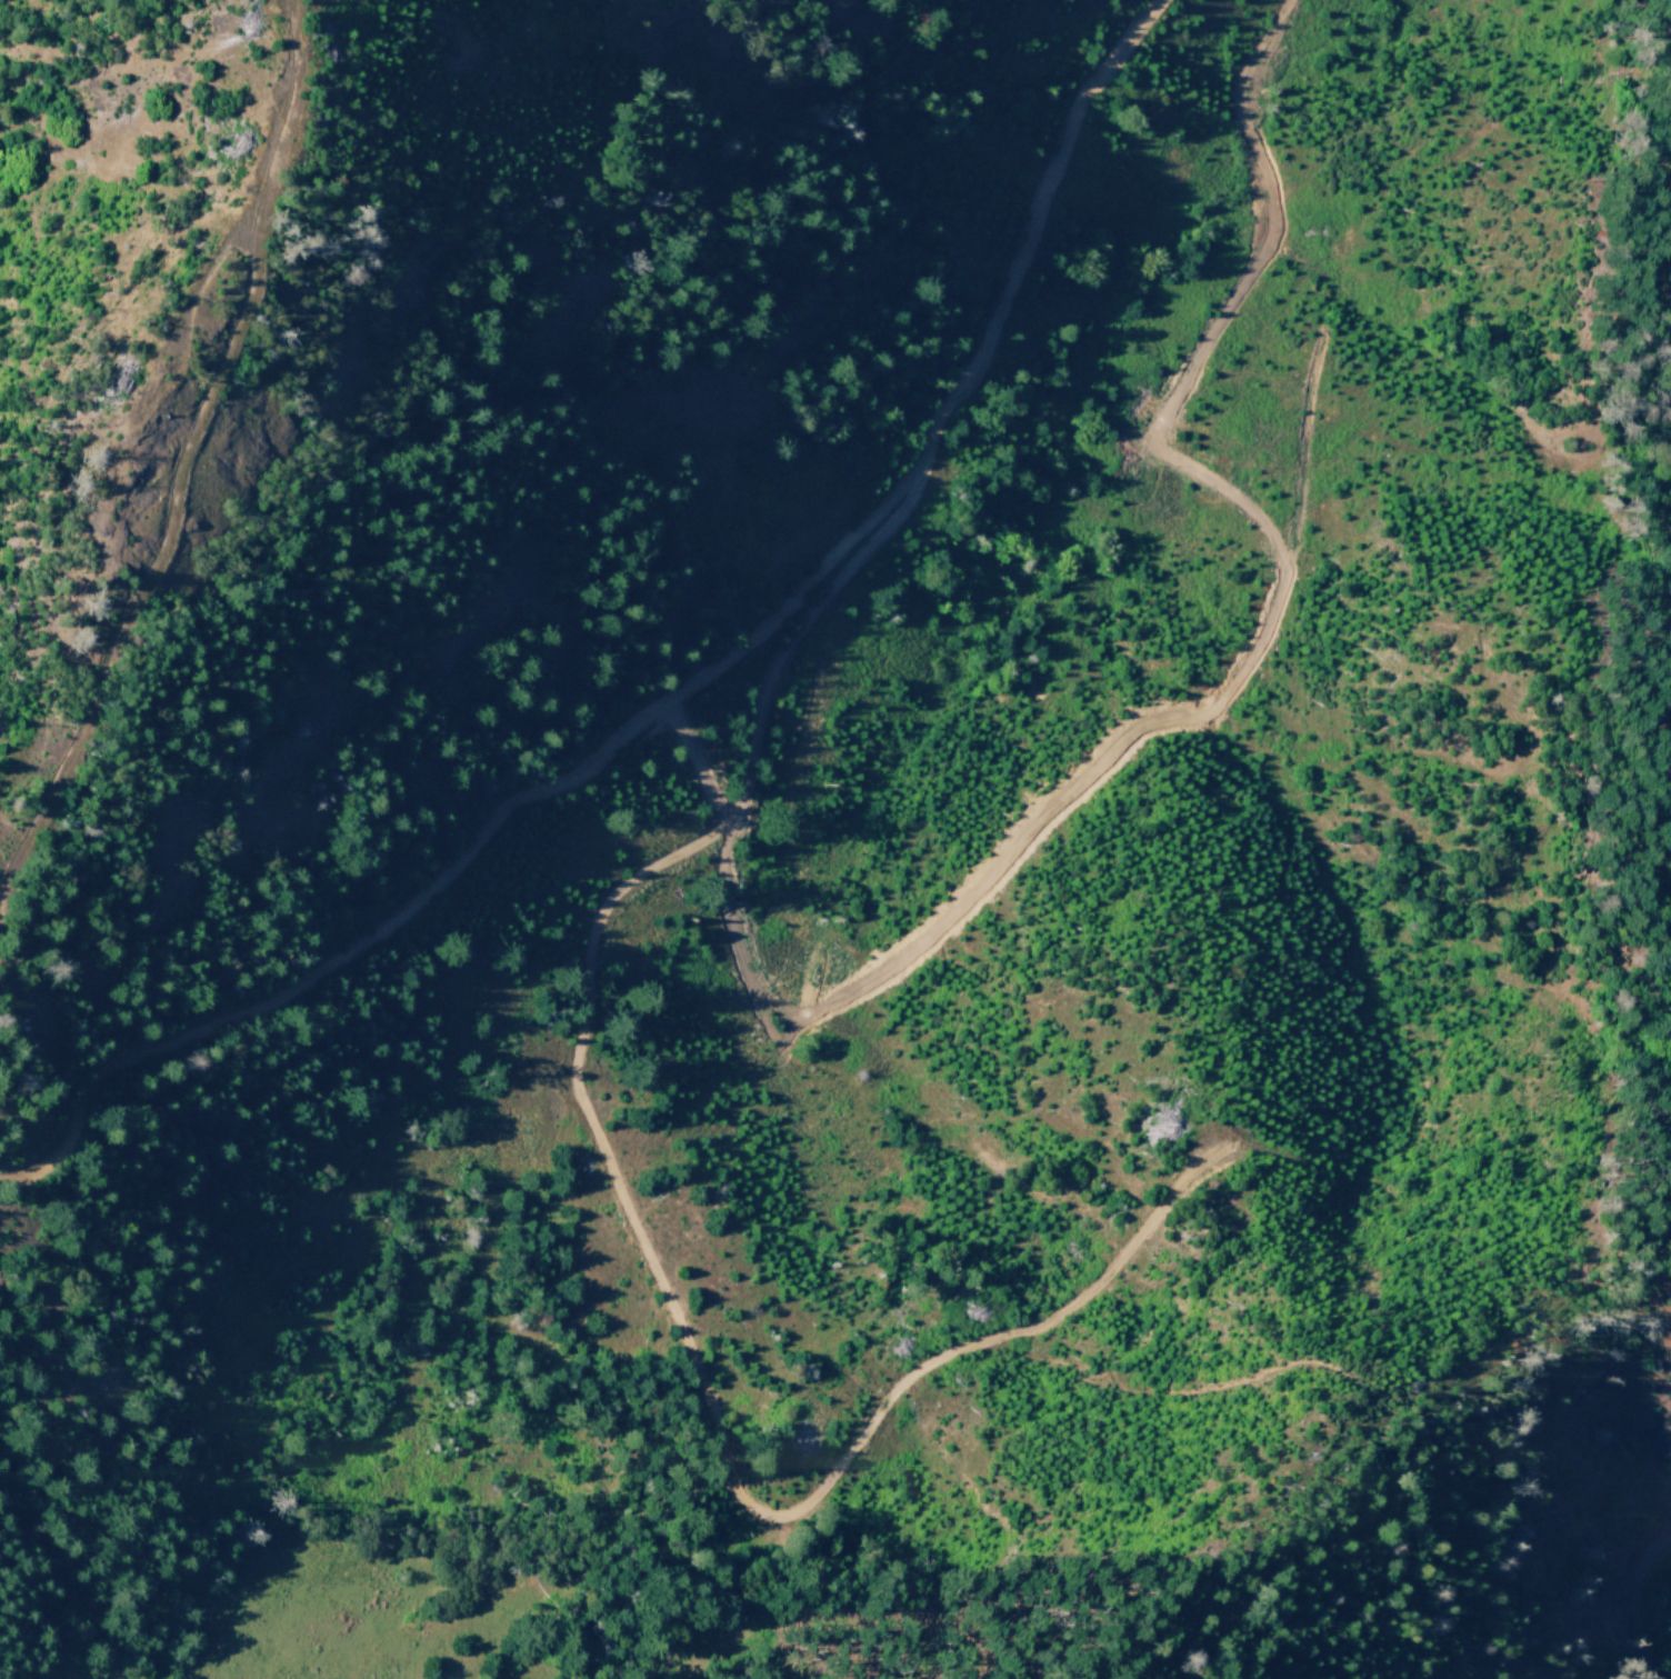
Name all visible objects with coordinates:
road: (1633, 1603)

